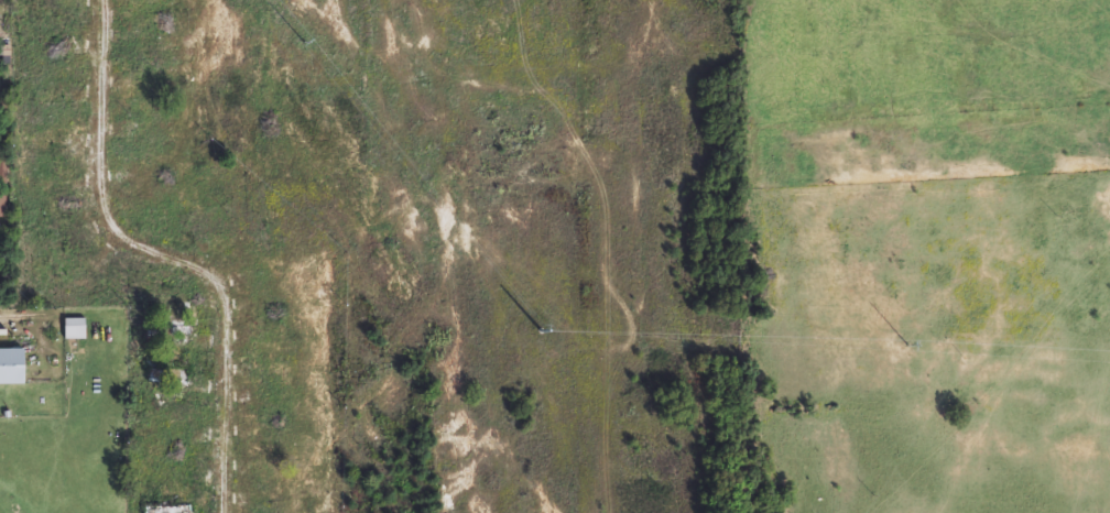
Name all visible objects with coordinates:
power tower: (304, 41)
building: (2, 171)
building: (2, 205)
road: (168, 254)
building: (74, 329)
power tower: (543, 330)
building: (167, 332)
power tower: (908, 346)
building: (11, 367)
building: (165, 379)
building: (167, 510)

